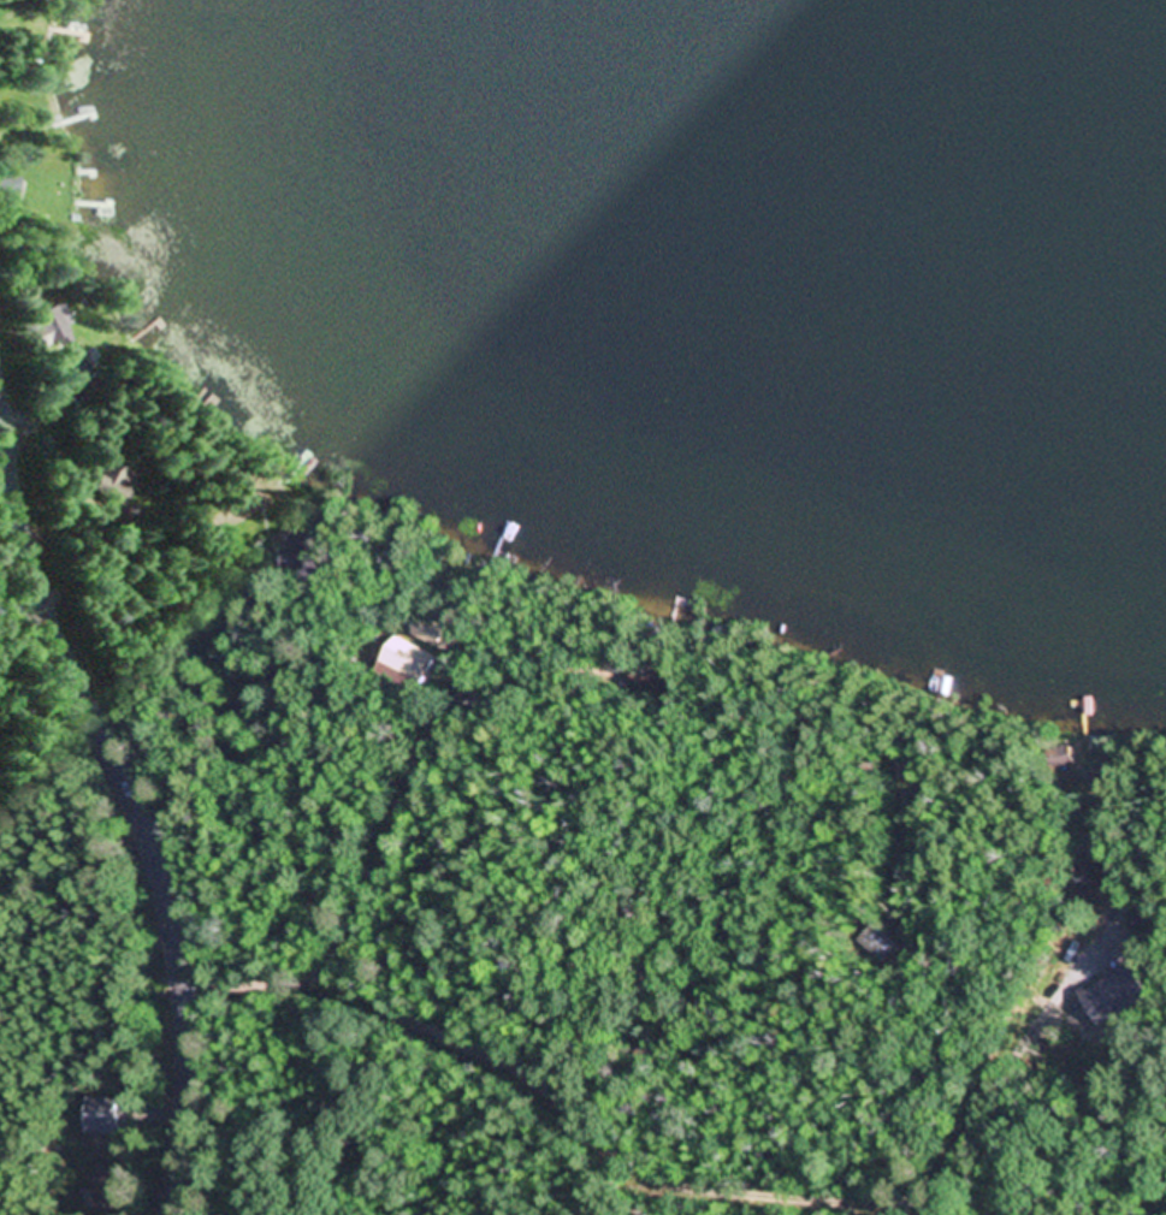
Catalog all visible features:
building: (6, 188)
building: (49, 328)
building: (73, 366)
building: (110, 485)
building: (233, 491)
building: (290, 555)
building: (428, 633)
building: (413, 666)
building: (647, 677)
road: (409, 736)
building: (1058, 757)
road: (138, 824)
building: (1087, 879)
building: (100, 1115)
road: (703, 1167)
building: (101, 1190)

